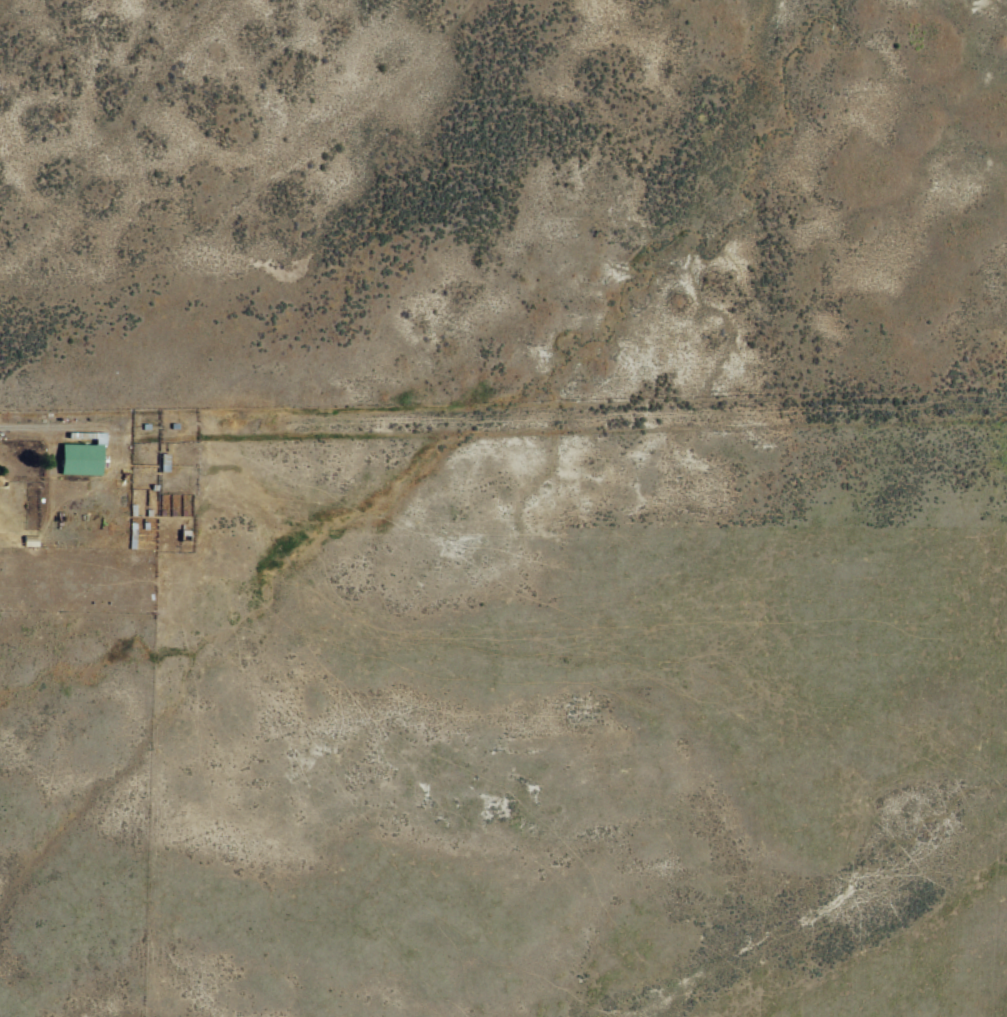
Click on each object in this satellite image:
road: (503, 393)
building: (81, 458)
crop: (503, 508)

